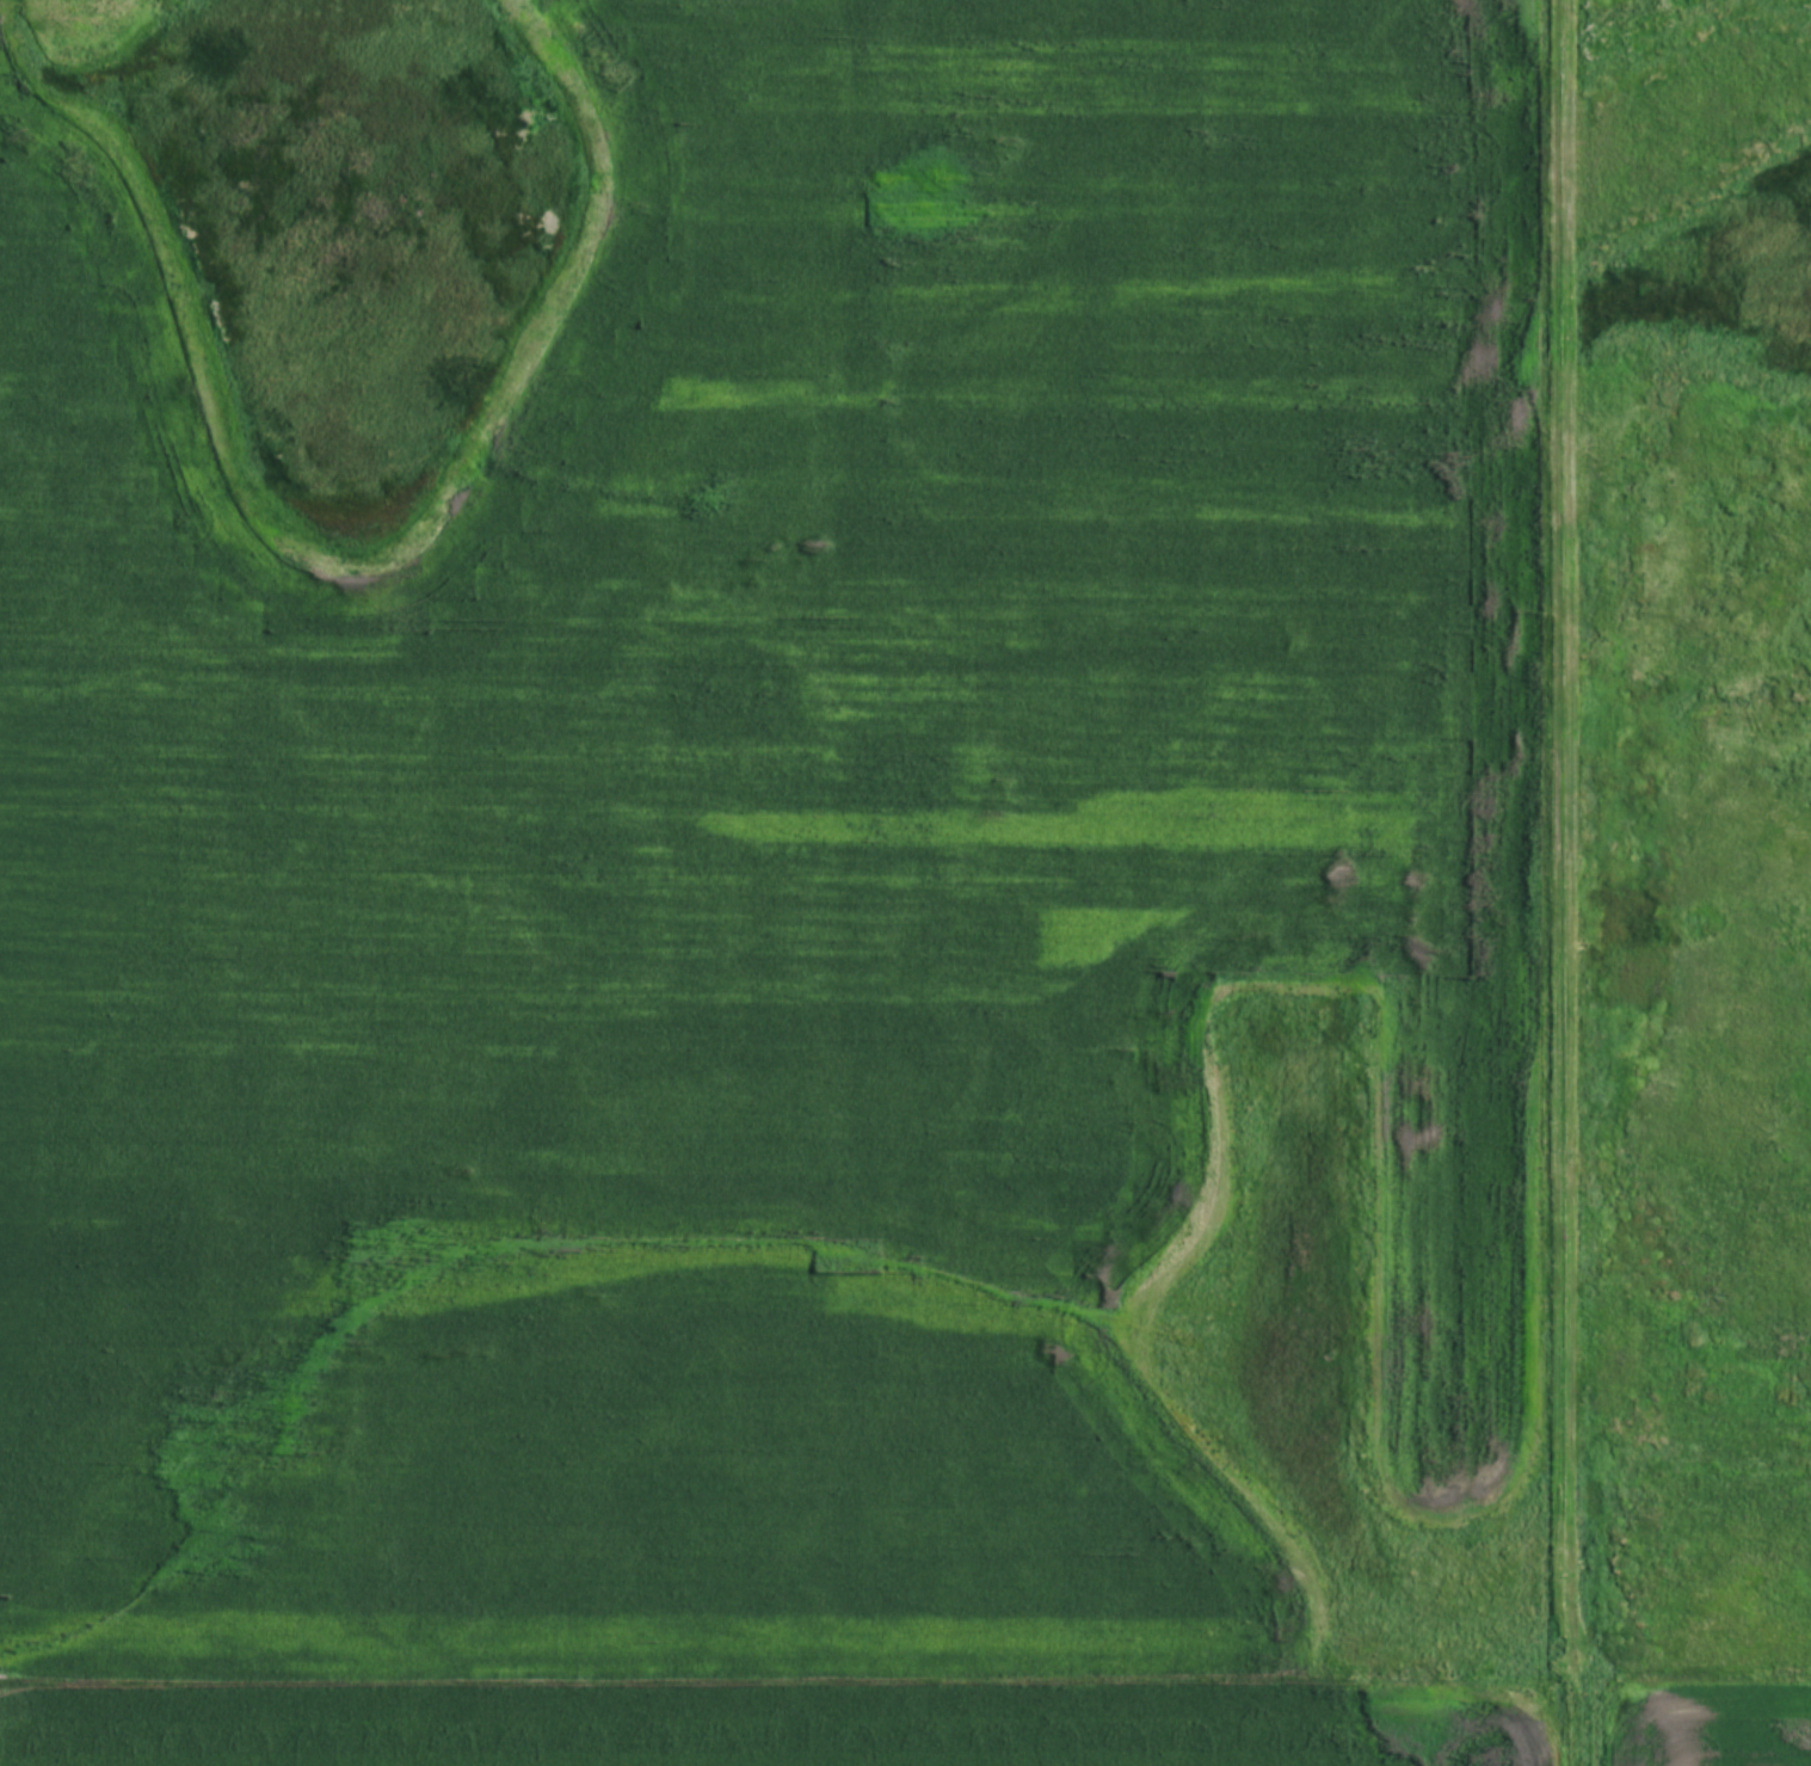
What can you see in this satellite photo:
road: (1576, 882)

